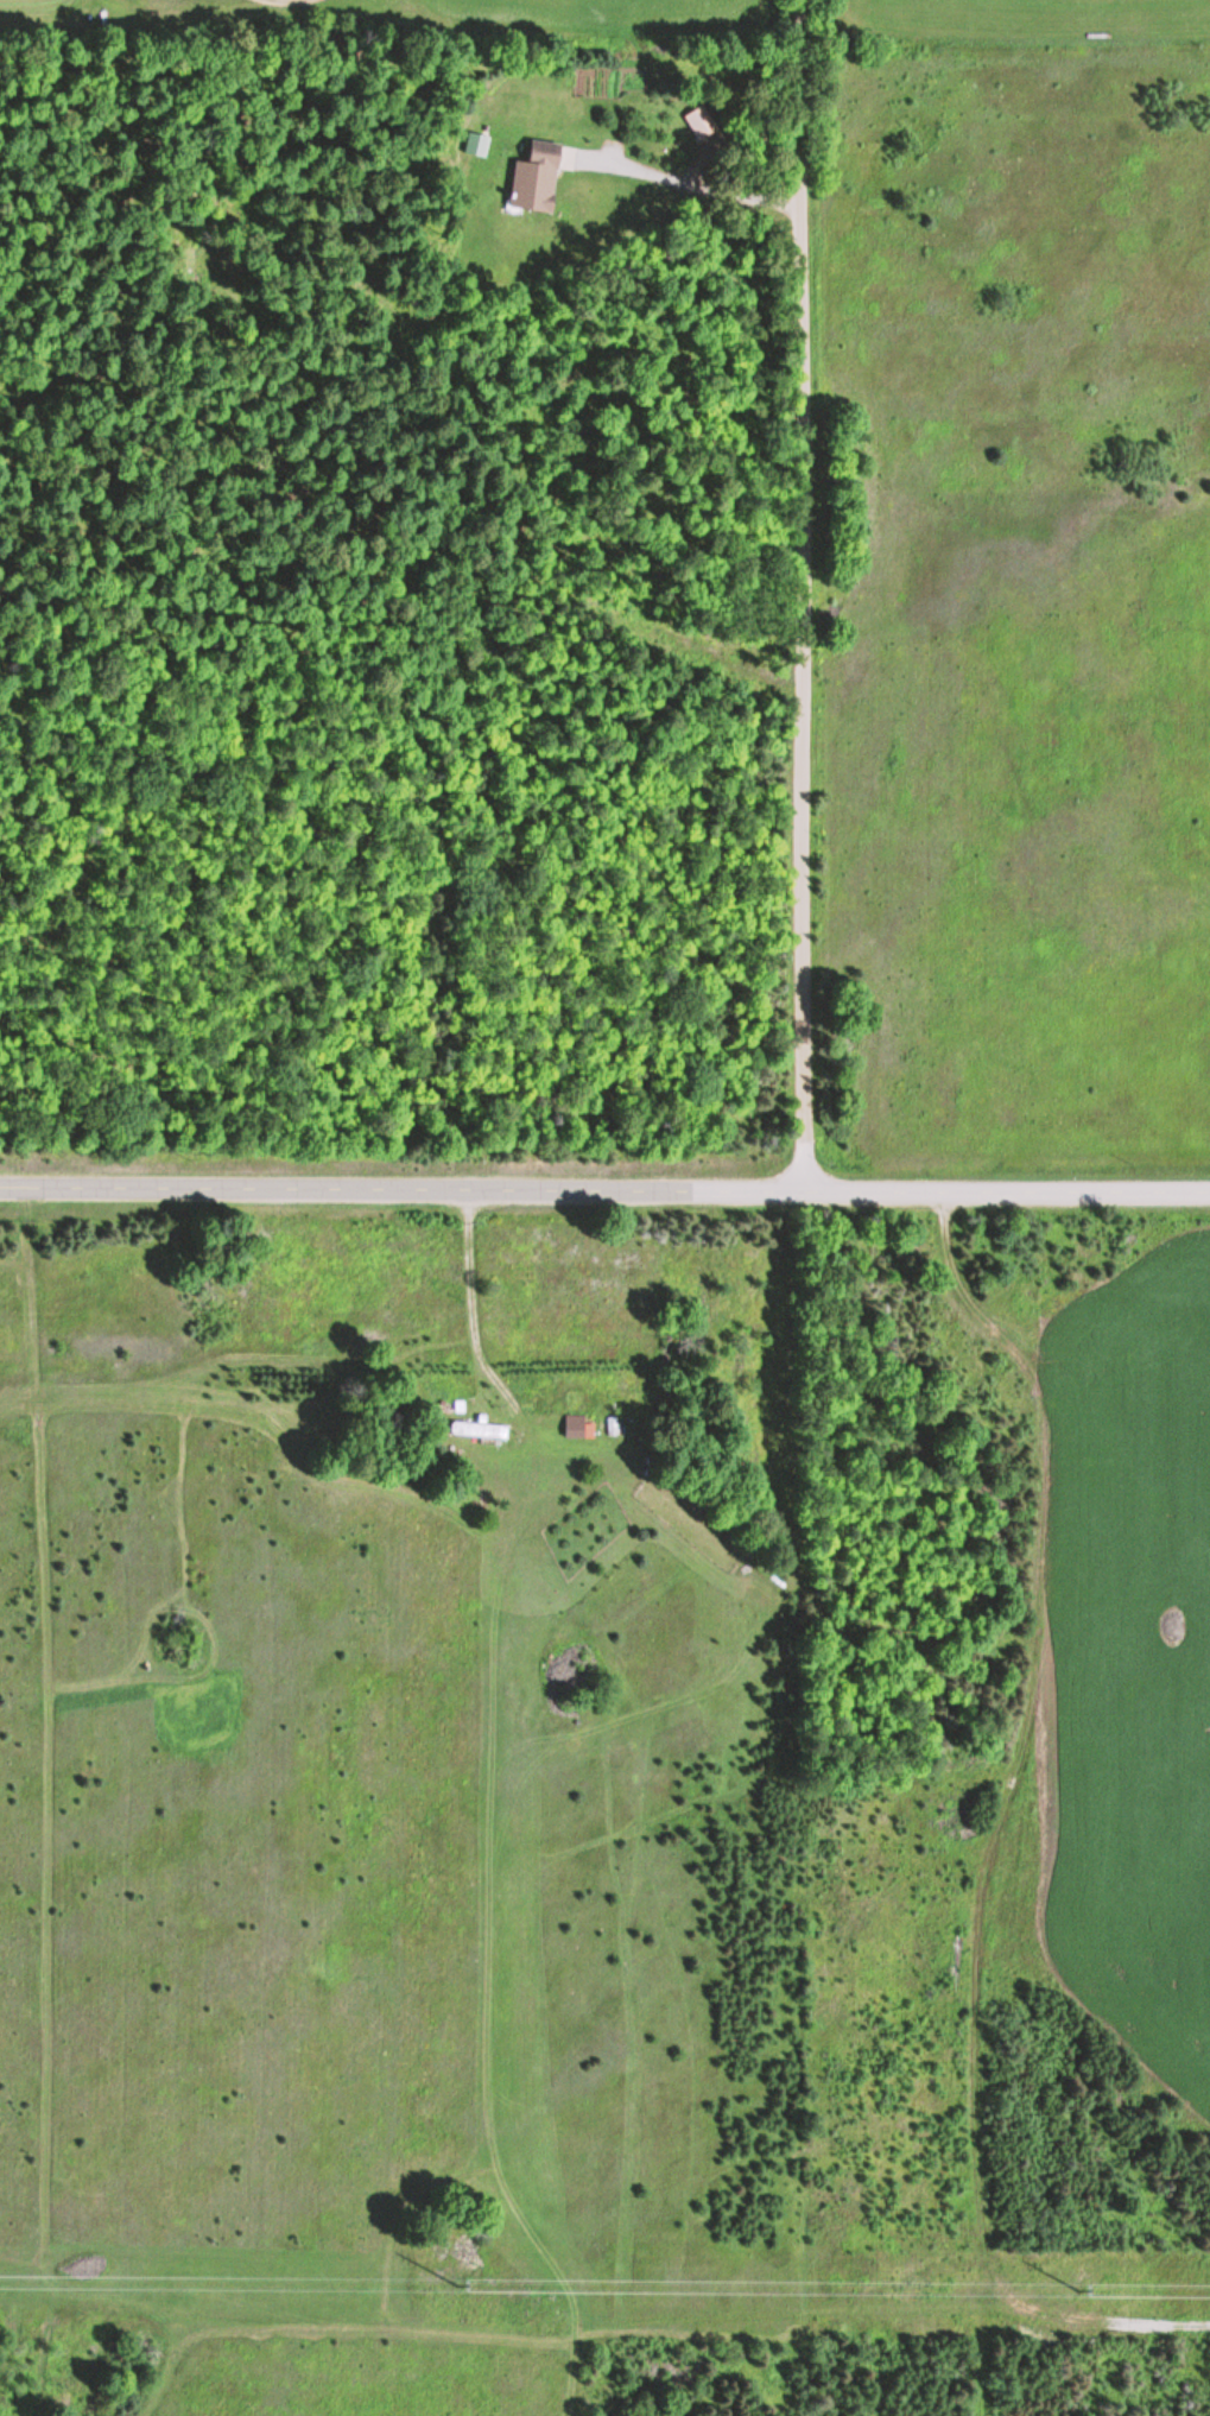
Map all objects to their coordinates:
building: (699, 124)
building: (477, 145)
building: (533, 178)
road: (804, 595)
road: (604, 1190)
building: (486, 1430)

